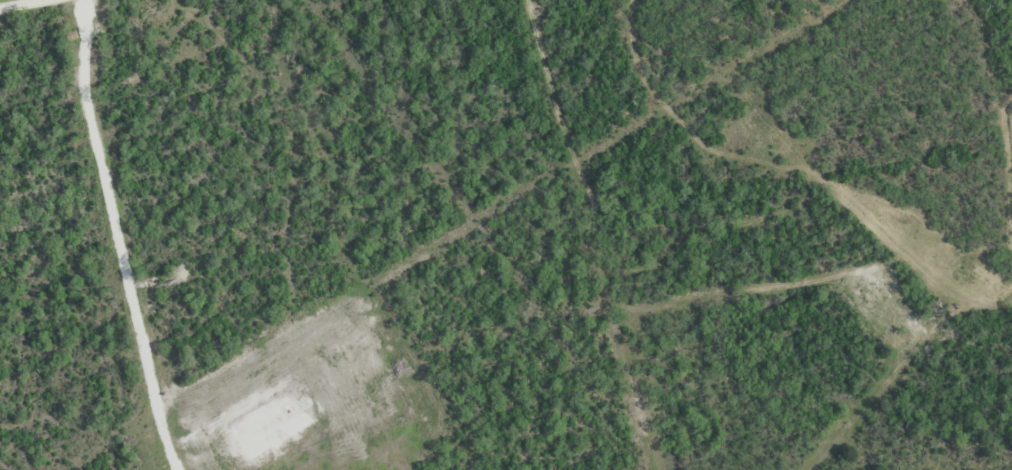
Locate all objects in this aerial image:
road: (18, 3)

